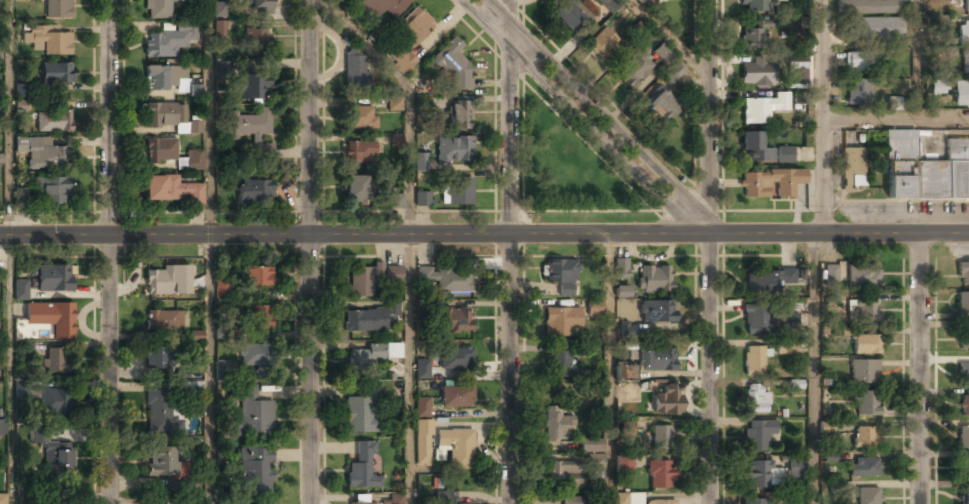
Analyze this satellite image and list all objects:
building: (645, 1)
building: (609, 4)
building: (754, 5)
building: (262, 6)
building: (868, 6)
building: (966, 6)
building: (384, 7)
building: (56, 8)
building: (159, 9)
building: (220, 9)
building: (570, 14)
building: (23, 26)
building: (415, 26)
building: (877, 28)
building: (220, 29)
building: (963, 32)
building: (752, 37)
road: (670, 38)
building: (46, 39)
building: (255, 40)
building: (16, 41)
building: (169, 41)
building: (603, 44)
building: (663, 54)
road: (915, 59)
building: (405, 61)
building: (859, 61)
building: (965, 62)
building: (451, 64)
building: (635, 70)
building: (356, 72)
building: (673, 72)
building: (55, 73)
building: (756, 74)
building: (799, 76)
building: (166, 79)
building: (939, 86)
building: (254, 87)
building: (195, 89)
building: (19, 90)
building: (858, 93)
building: (961, 94)
road: (410, 97)
building: (800, 97)
building: (893, 103)
building: (19, 105)
building: (394, 105)
building: (663, 105)
building: (763, 108)
building: (0, 109)
road: (602, 111)
building: (163, 114)
building: (459, 114)
road: (824, 116)
road: (710, 117)
road: (209, 118)
building: (360, 118)
road: (896, 118)
building: (53, 121)
road: (583, 121)
building: (194, 126)
building: (181, 128)
building: (255, 129)
building: (395, 138)
building: (756, 147)
building: (159, 150)
building: (454, 151)
building: (359, 153)
building: (42, 155)
building: (784, 155)
building: (193, 159)
building: (180, 163)
building: (420, 163)
building: (852, 169)
building: (925, 170)
building: (770, 183)
building: (170, 189)
building: (355, 189)
building: (457, 190)
building: (43, 191)
building: (255, 193)
building: (423, 199)
building: (396, 201)
road: (839, 234)
road: (354, 235)
road: (110, 251)
road: (10, 252)
road: (310, 252)
road: (510, 252)
building: (621, 268)
building: (963, 273)
building: (561, 274)
building: (393, 275)
building: (830, 275)
building: (256, 277)
building: (863, 277)
building: (53, 278)
building: (655, 278)
building: (364, 279)
building: (447, 279)
building: (166, 281)
building: (768, 281)
building: (221, 288)
building: (21, 289)
building: (622, 291)
building: (830, 297)
building: (963, 302)
building: (594, 307)
building: (657, 310)
building: (863, 310)
building: (52, 317)
building: (260, 317)
building: (164, 319)
building: (455, 319)
building: (788, 319)
building: (367, 320)
building: (755, 320)
building: (561, 322)
building: (196, 335)
building: (964, 337)
building: (866, 344)
building: (784, 347)
building: (255, 355)
building: (372, 355)
building: (156, 358)
building: (456, 359)
building: (559, 359)
building: (656, 359)
building: (55, 361)
building: (753, 361)
building: (222, 369)
road: (410, 369)
building: (422, 369)
road: (609, 369)
road: (709, 369)
road: (823, 369)
road: (918, 369)
road: (210, 370)
building: (864, 371)
building: (625, 373)
building: (965, 374)
building: (194, 389)
building: (21, 390)
building: (456, 398)
building: (756, 399)
building: (667, 400)
building: (53, 402)
building: (866, 403)
building: (422, 406)
building: (964, 406)
building: (159, 413)
building: (252, 415)
building: (360, 415)
building: (557, 425)
building: (3, 427)
building: (628, 428)
building: (757, 434)
building: (661, 437)
building: (865, 437)
building: (963, 437)
building: (423, 443)
building: (592, 445)
building: (457, 447)
building: (59, 459)
building: (162, 462)
building: (623, 465)
building: (864, 467)
building: (362, 469)
building: (794, 469)
building: (965, 469)
building: (256, 471)
building: (564, 474)
building: (661, 474)
building: (761, 474)
building: (868, 496)
building: (965, 497)
building: (397, 498)
building: (447, 498)
building: (2, 499)
building: (52, 500)
building: (177, 500)
building: (571, 500)
building: (754, 501)
building: (658, 502)
building: (359, 503)

